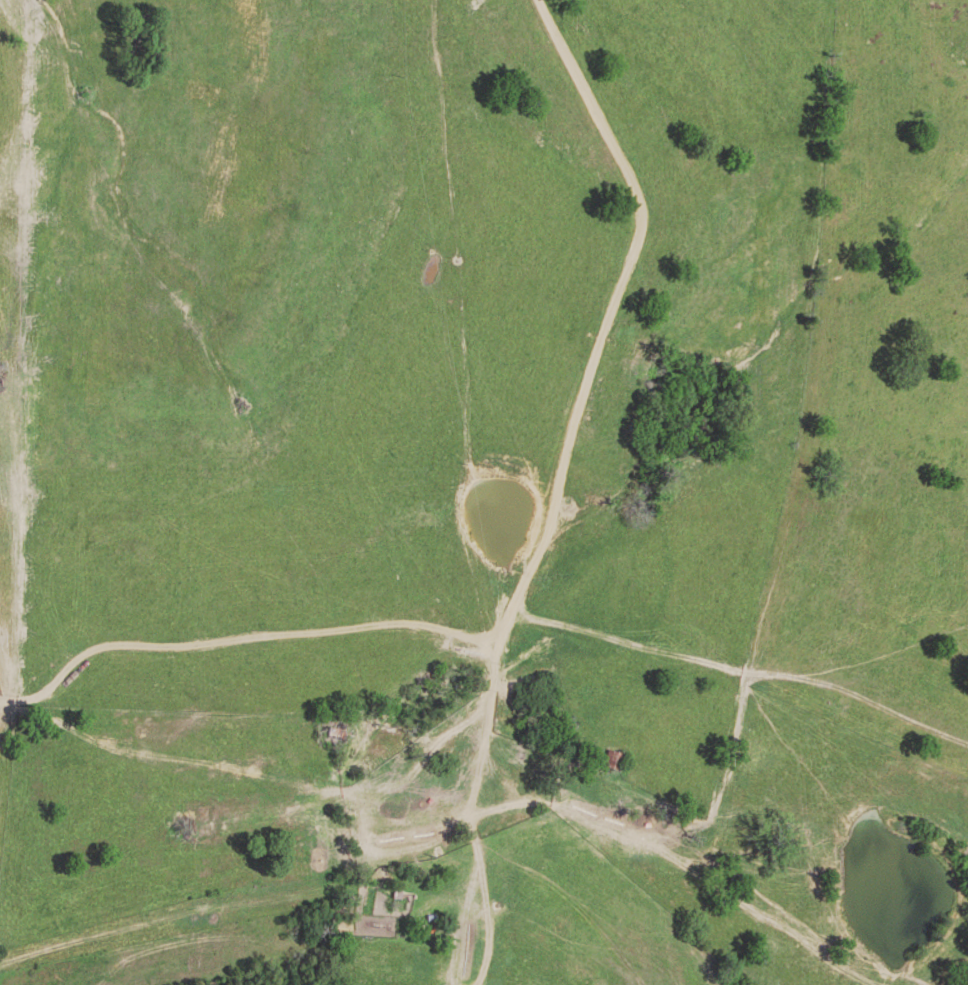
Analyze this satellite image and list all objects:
road: (510, 656)

